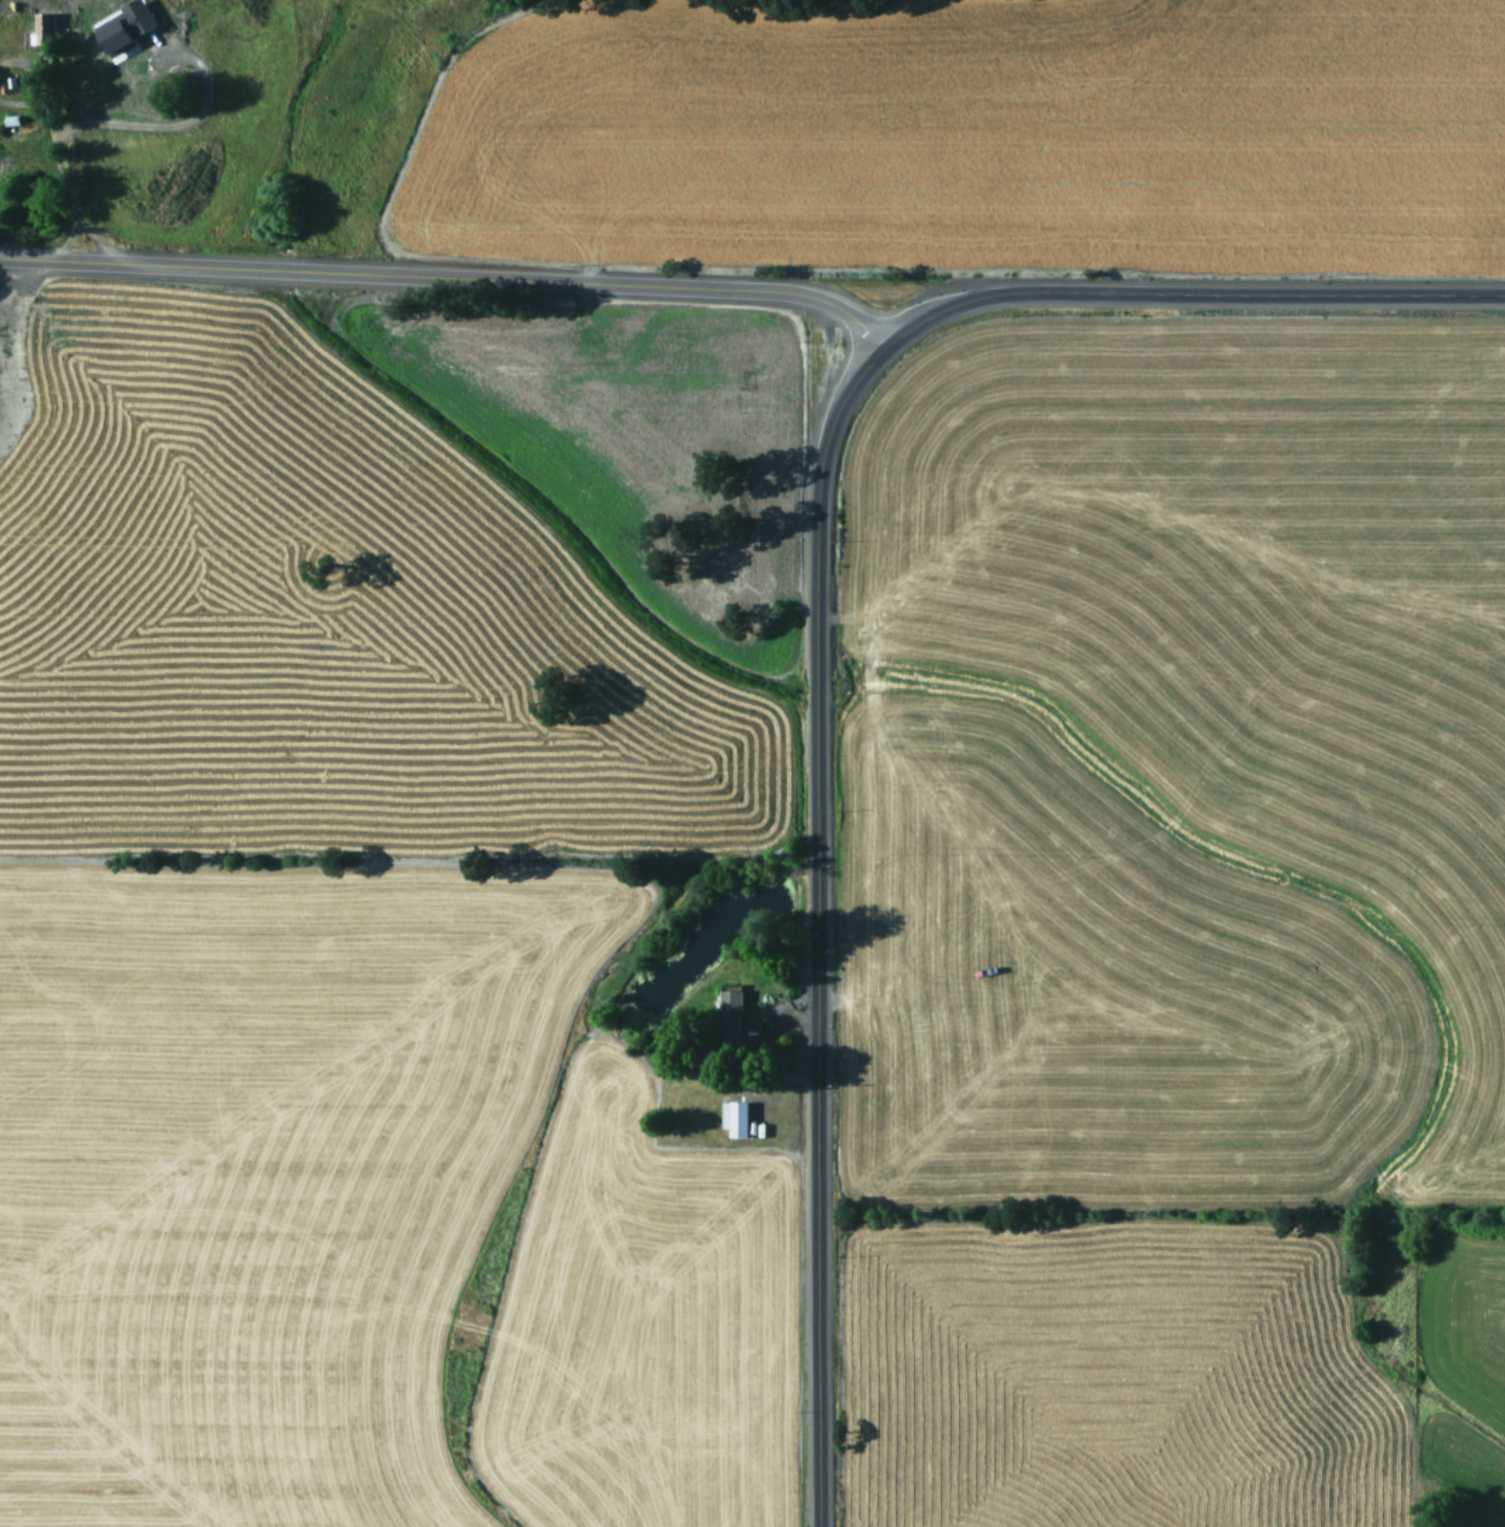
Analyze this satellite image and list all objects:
building: (42, 27)
building: (124, 27)
road: (31, 69)
road: (19, 101)
building: (10, 119)
road: (164, 125)
crop: (993, 130)
road: (57, 158)
road: (65, 237)
road: (105, 239)
road: (450, 273)
road: (1187, 289)
crop: (376, 819)
road: (820, 926)
crop: (1177, 935)
building: (731, 1010)
building: (735, 1116)

